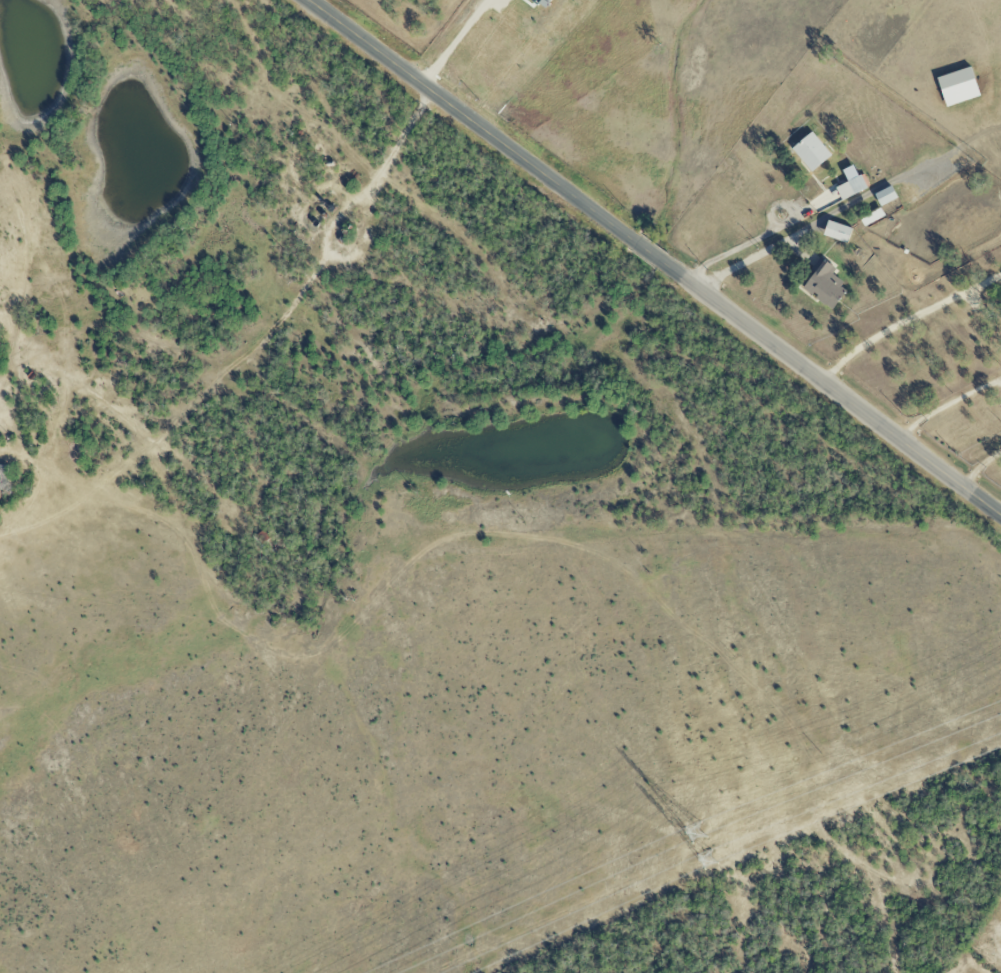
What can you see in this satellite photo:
road: (458, 43)
building: (959, 86)
building: (812, 152)
road: (382, 168)
building: (852, 184)
building: (886, 195)
building: (838, 231)
road: (737, 249)
road: (655, 256)
building: (825, 285)
road: (906, 319)
road: (949, 406)
road: (979, 466)
building: (3, 477)
power tower: (698, 832)
power tower: (710, 859)

